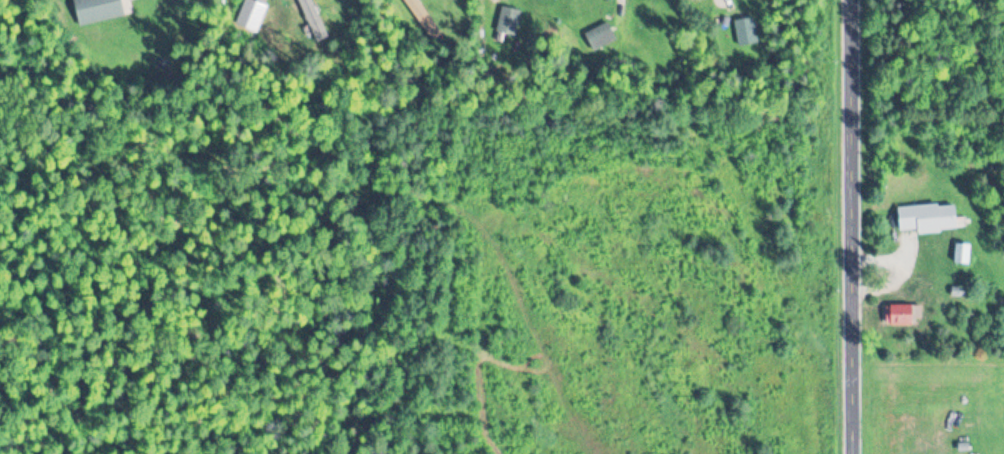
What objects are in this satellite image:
building: (99, 10)
building: (424, 18)
building: (508, 21)
building: (746, 32)
building: (600, 37)
building: (928, 218)
road: (856, 227)
building: (966, 253)
building: (905, 315)

